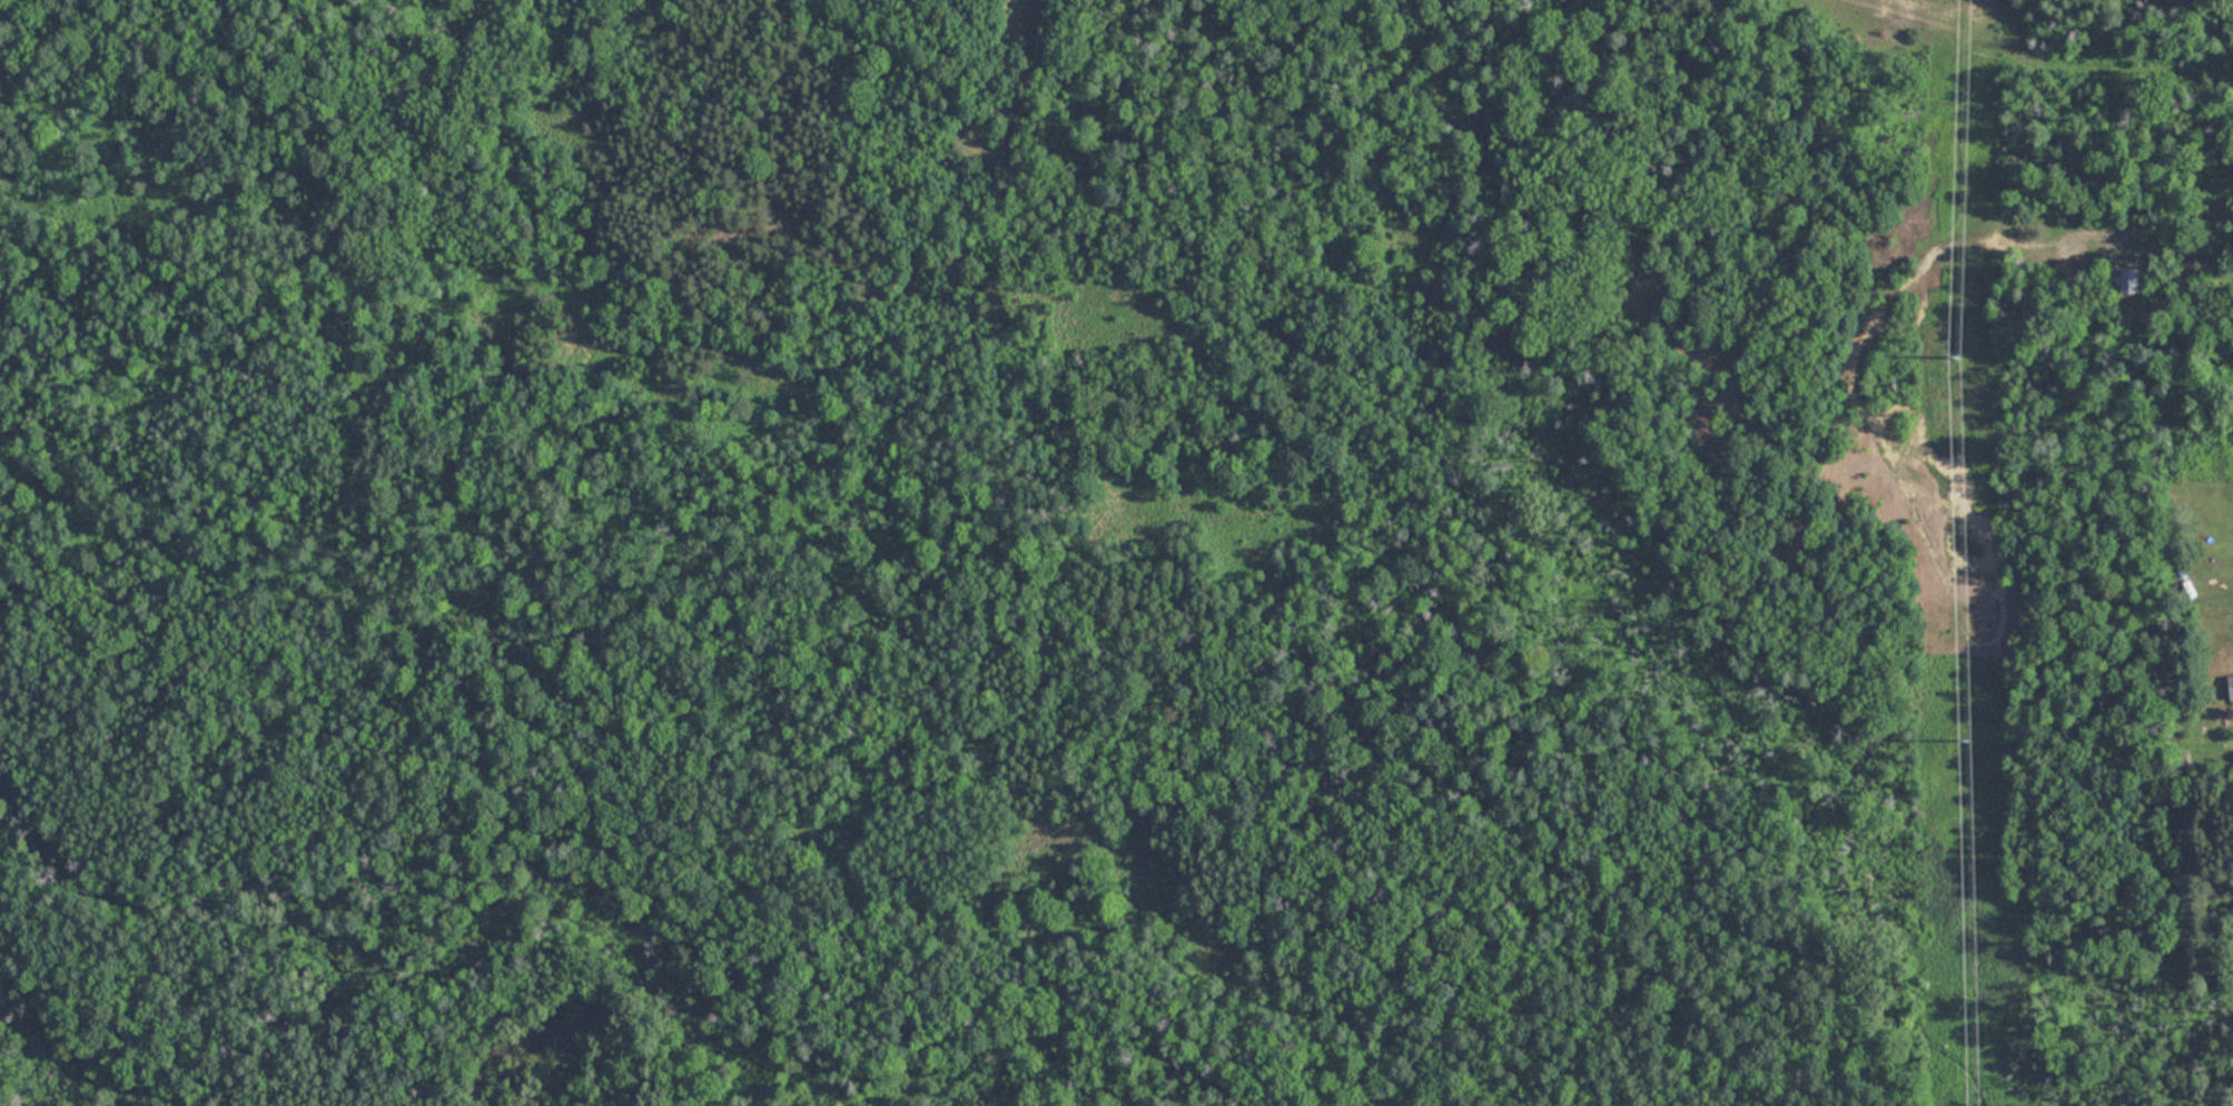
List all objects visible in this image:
power tower: (1957, 359)
park: (988, 601)
building: (2231, 685)
power tower: (1970, 741)

